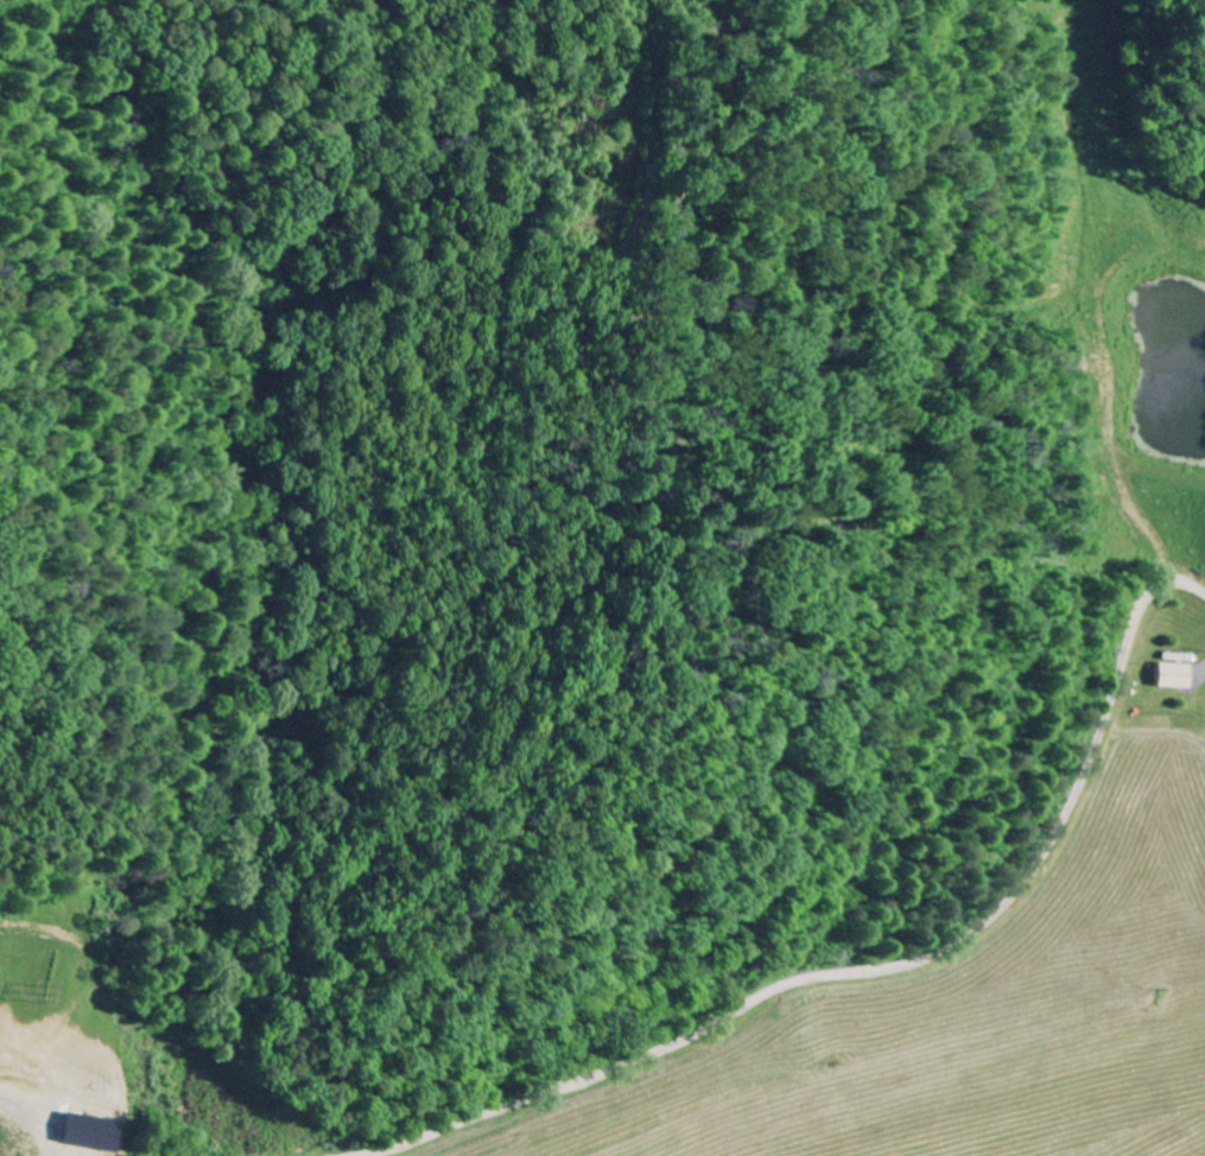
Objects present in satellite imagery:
building: (1175, 677)
road: (874, 971)
power tower: (53, 992)
building: (87, 1133)

